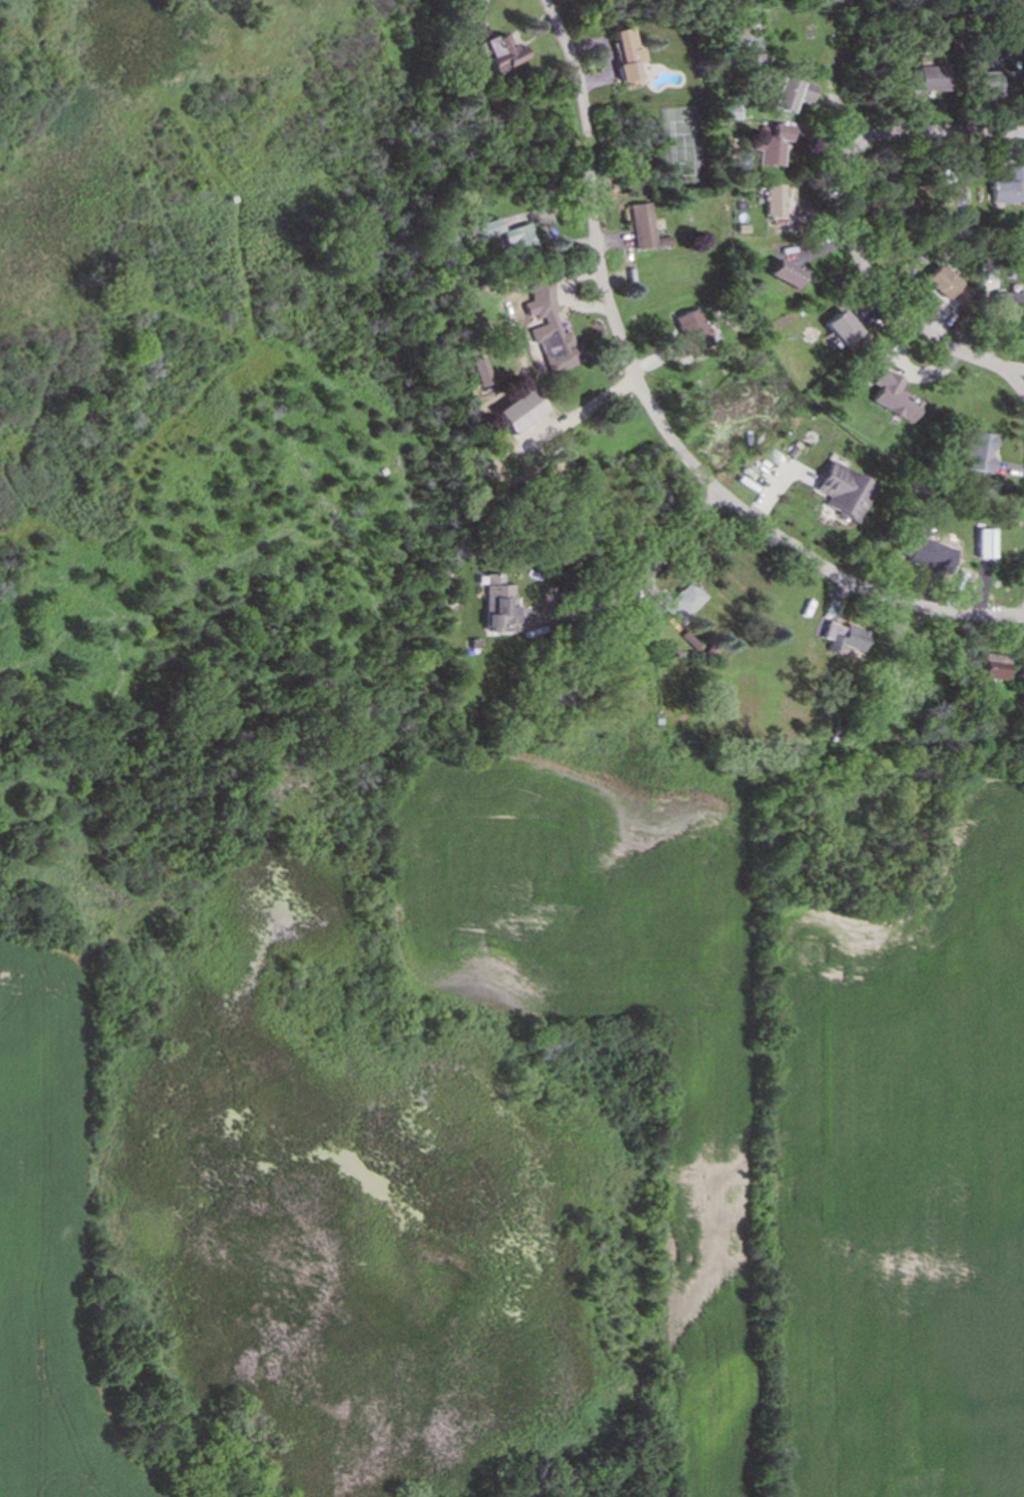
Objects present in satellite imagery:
building: (504, 52)
building: (628, 54)
building: (933, 78)
building: (994, 84)
building: (792, 94)
building: (772, 146)
building: (1009, 188)
road: (850, 199)
building: (774, 200)
building: (643, 225)
building: (489, 228)
building: (521, 240)
building: (786, 273)
building: (948, 287)
building: (1009, 303)
building: (844, 328)
building: (551, 329)
building: (691, 331)
road: (1005, 366)
building: (481, 372)
building: (896, 396)
building: (519, 411)
road: (653, 420)
building: (979, 453)
building: (845, 491)
road: (675, 538)
building: (986, 544)
building: (927, 553)
building: (683, 602)
road: (584, 611)
building: (845, 637)
building: (994, 667)

